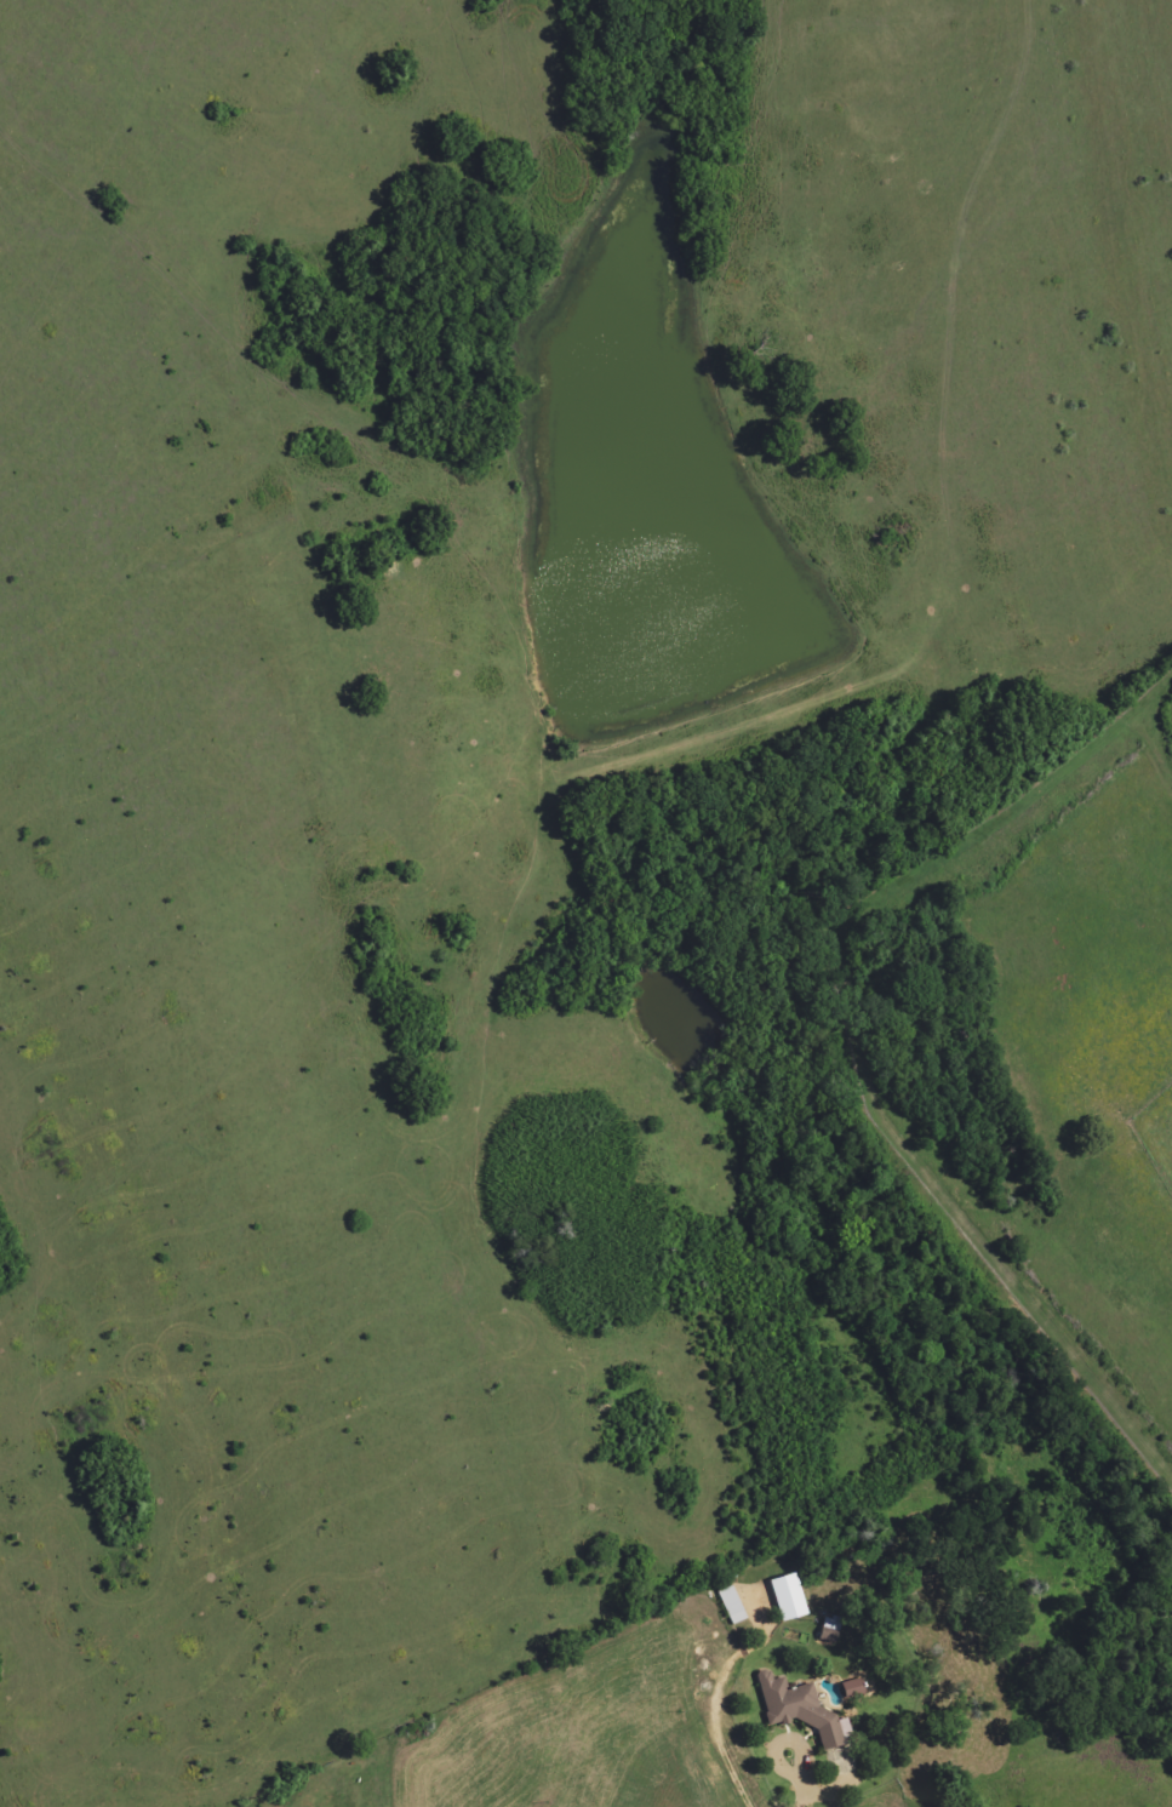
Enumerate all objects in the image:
building: (787, 1597)
building: (731, 1605)
building: (799, 1709)

